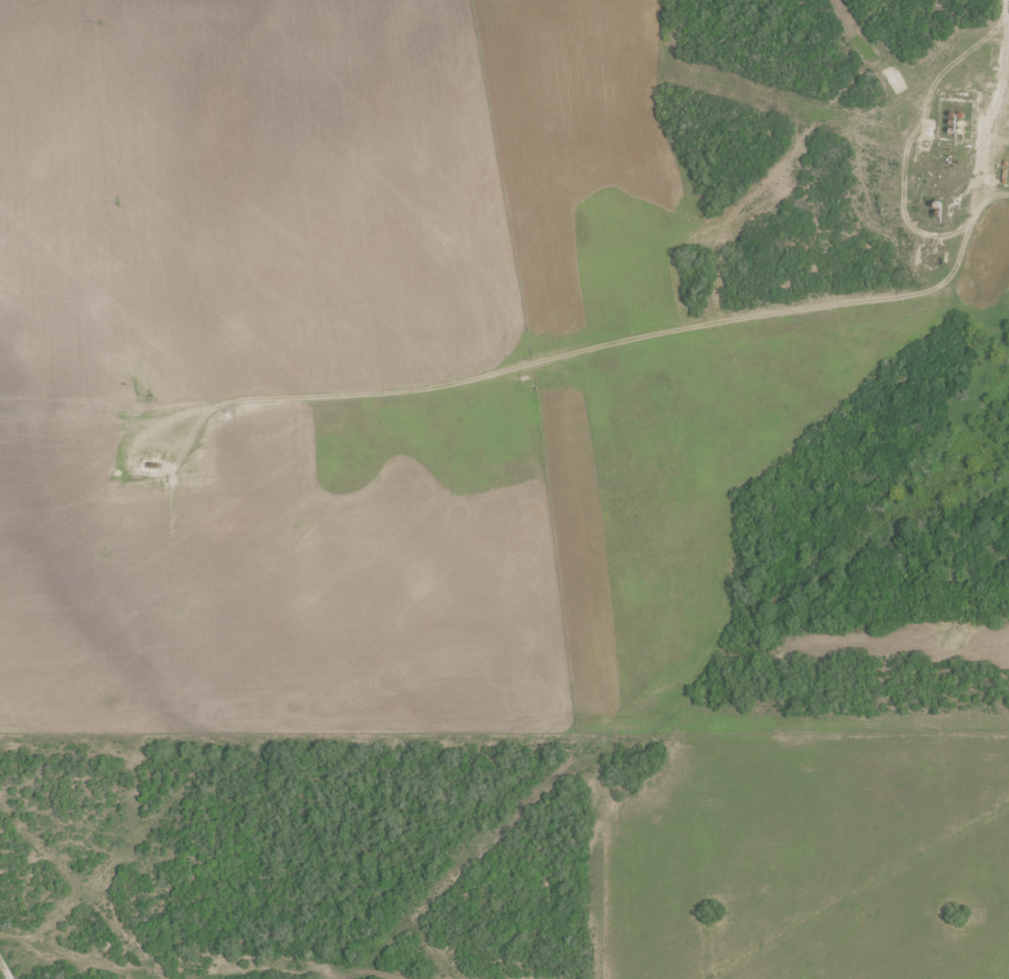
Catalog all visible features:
road: (1007, 38)

